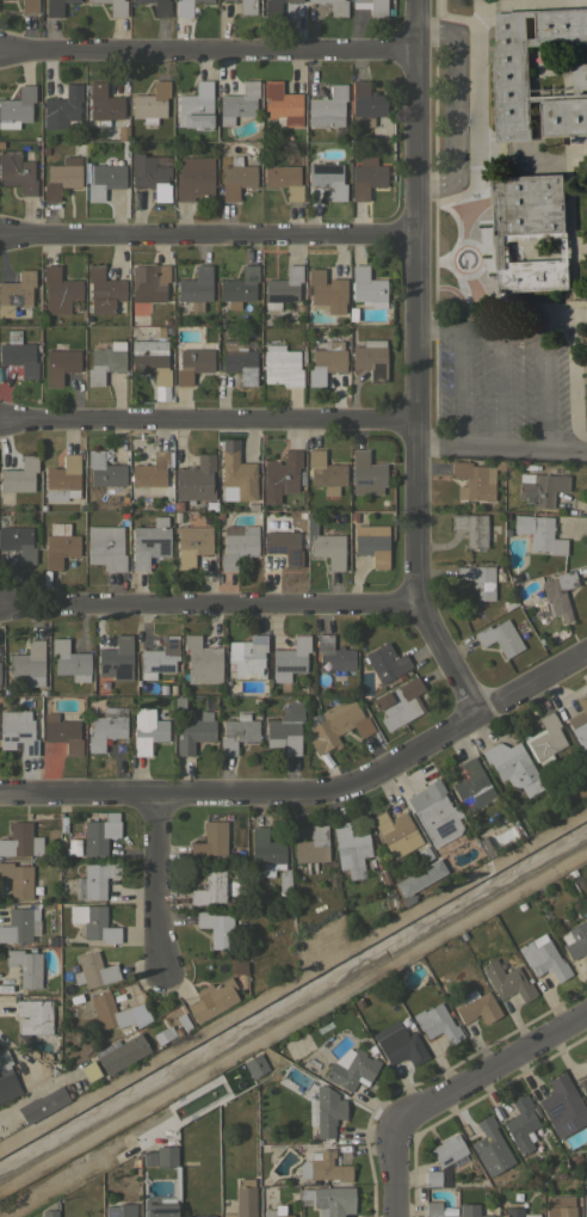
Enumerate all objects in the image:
building: (234, 1)
building: (29, 6)
building: (157, 6)
building: (334, 6)
building: (373, 6)
building: (56, 7)
building: (115, 7)
building: (186, 7)
building: (247, 7)
building: (273, 7)
road: (206, 50)
building: (511, 79)
road: (461, 102)
building: (150, 103)
building: (239, 103)
building: (282, 103)
building: (366, 103)
building: (103, 104)
building: (196, 106)
building: (17, 107)
building: (63, 109)
building: (328, 109)
building: (122, 130)
building: (44, 148)
building: (17, 172)
building: (150, 174)
building: (366, 176)
building: (62, 177)
building: (193, 177)
building: (236, 178)
building: (104, 179)
building: (327, 179)
building: (284, 180)
building: (319, 197)
building: (530, 231)
road: (208, 233)
building: (147, 285)
building: (239, 287)
building: (196, 288)
building: (282, 288)
building: (366, 288)
building: (58, 290)
building: (103, 290)
building: (326, 290)
building: (16, 291)
building: (299, 306)
building: (352, 313)
building: (87, 319)
building: (168, 321)
building: (167, 328)
building: (160, 330)
building: (208, 344)
building: (301, 344)
building: (19, 357)
building: (371, 358)
building: (150, 359)
building: (239, 359)
building: (105, 362)
building: (326, 362)
building: (60, 363)
building: (192, 364)
road: (415, 364)
building: (282, 365)
road: (545, 392)
building: (586, 413)
road: (208, 420)
road: (567, 448)
building: (498, 465)
building: (556, 467)
building: (539, 468)
building: (104, 469)
building: (150, 471)
building: (325, 473)
building: (366, 474)
building: (19, 475)
building: (194, 475)
building: (280, 477)
building: (301, 477)
building: (236, 478)
building: (63, 479)
building: (472, 480)
building: (540, 488)
building: (146, 502)
building: (48, 505)
building: (175, 505)
building: (468, 505)
building: (42, 506)
building: (177, 516)
building: (353, 516)
building: (470, 528)
building: (506, 530)
building: (539, 533)
building: (18, 542)
building: (149, 542)
building: (192, 542)
building: (325, 543)
building: (372, 543)
building: (58, 545)
building: (237, 545)
building: (284, 546)
building: (105, 547)
building: (511, 577)
building: (475, 583)
building: (554, 596)
building: (508, 603)
road: (208, 604)
building: (480, 611)
building: (518, 625)
building: (499, 638)
building: (333, 654)
building: (159, 657)
building: (247, 657)
building: (116, 658)
building: (290, 659)
building: (69, 660)
building: (202, 660)
building: (385, 662)
building: (29, 664)
building: (162, 689)
building: (172, 689)
building: (319, 697)
building: (178, 702)
building: (398, 703)
building: (580, 720)
building: (336, 724)
building: (106, 727)
building: (285, 729)
building: (147, 730)
building: (63, 731)
building: (194, 732)
building: (237, 732)
building: (17, 733)
building: (544, 739)
building: (512, 766)
building: (472, 785)
road: (309, 789)
building: (373, 797)
building: (437, 813)
building: (394, 830)
building: (98, 836)
building: (210, 840)
building: (20, 841)
building: (73, 847)
building: (313, 848)
building: (350, 849)
building: (266, 852)
building: (424, 854)
road: (146, 867)
building: (382, 875)
building: (418, 877)
building: (18, 880)
building: (94, 880)
building: (285, 880)
building: (36, 885)
building: (209, 886)
building: (533, 895)
building: (519, 905)
building: (573, 916)
building: (93, 922)
building: (19, 926)
building: (216, 928)
building: (575, 940)
road: (155, 952)
building: (543, 957)
building: (237, 965)
building: (25, 966)
building: (93, 971)
building: (507, 981)
building: (74, 998)
building: (211, 1000)
building: (476, 1007)
building: (109, 1012)
building: (33, 1015)
building: (181, 1022)
building: (437, 1024)
building: (174, 1032)
building: (400, 1045)
building: (371, 1047)
building: (119, 1053)
building: (585, 1062)
building: (254, 1065)
building: (351, 1069)
building: (88, 1072)
building: (6, 1077)
building: (582, 1087)
building: (325, 1090)
road: (452, 1096)
building: (42, 1105)
building: (562, 1106)
building: (325, 1114)
building: (521, 1124)
building: (166, 1137)
building: (488, 1141)
building: (165, 1156)
building: (575, 1157)
building: (148, 1158)
building: (443, 1161)
building: (135, 1162)
building: (323, 1167)
building: (243, 1199)
building: (329, 1199)
building: (585, 1205)
building: (560, 1206)
building: (157, 1210)
building: (438, 1210)
building: (470, 1211)
building: (112, 1212)
building: (276, 1212)
building: (517, 1212)
building: (49, 1213)
building: (200, 1216)

